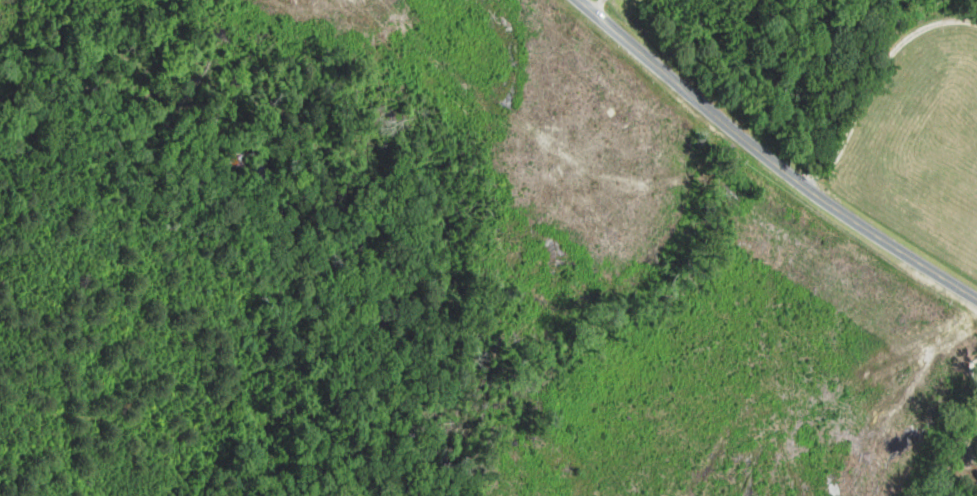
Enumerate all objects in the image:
road: (770, 160)

